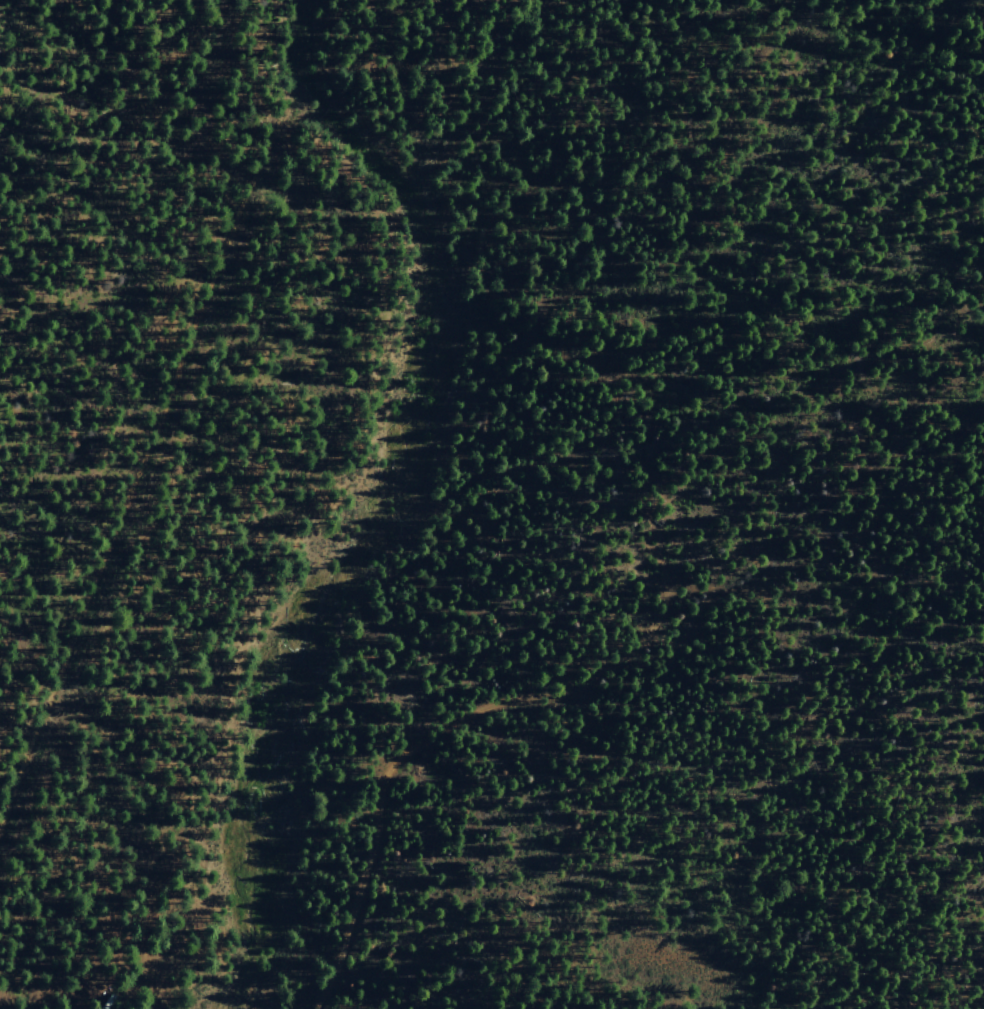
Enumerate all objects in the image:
road: (145, 449)

